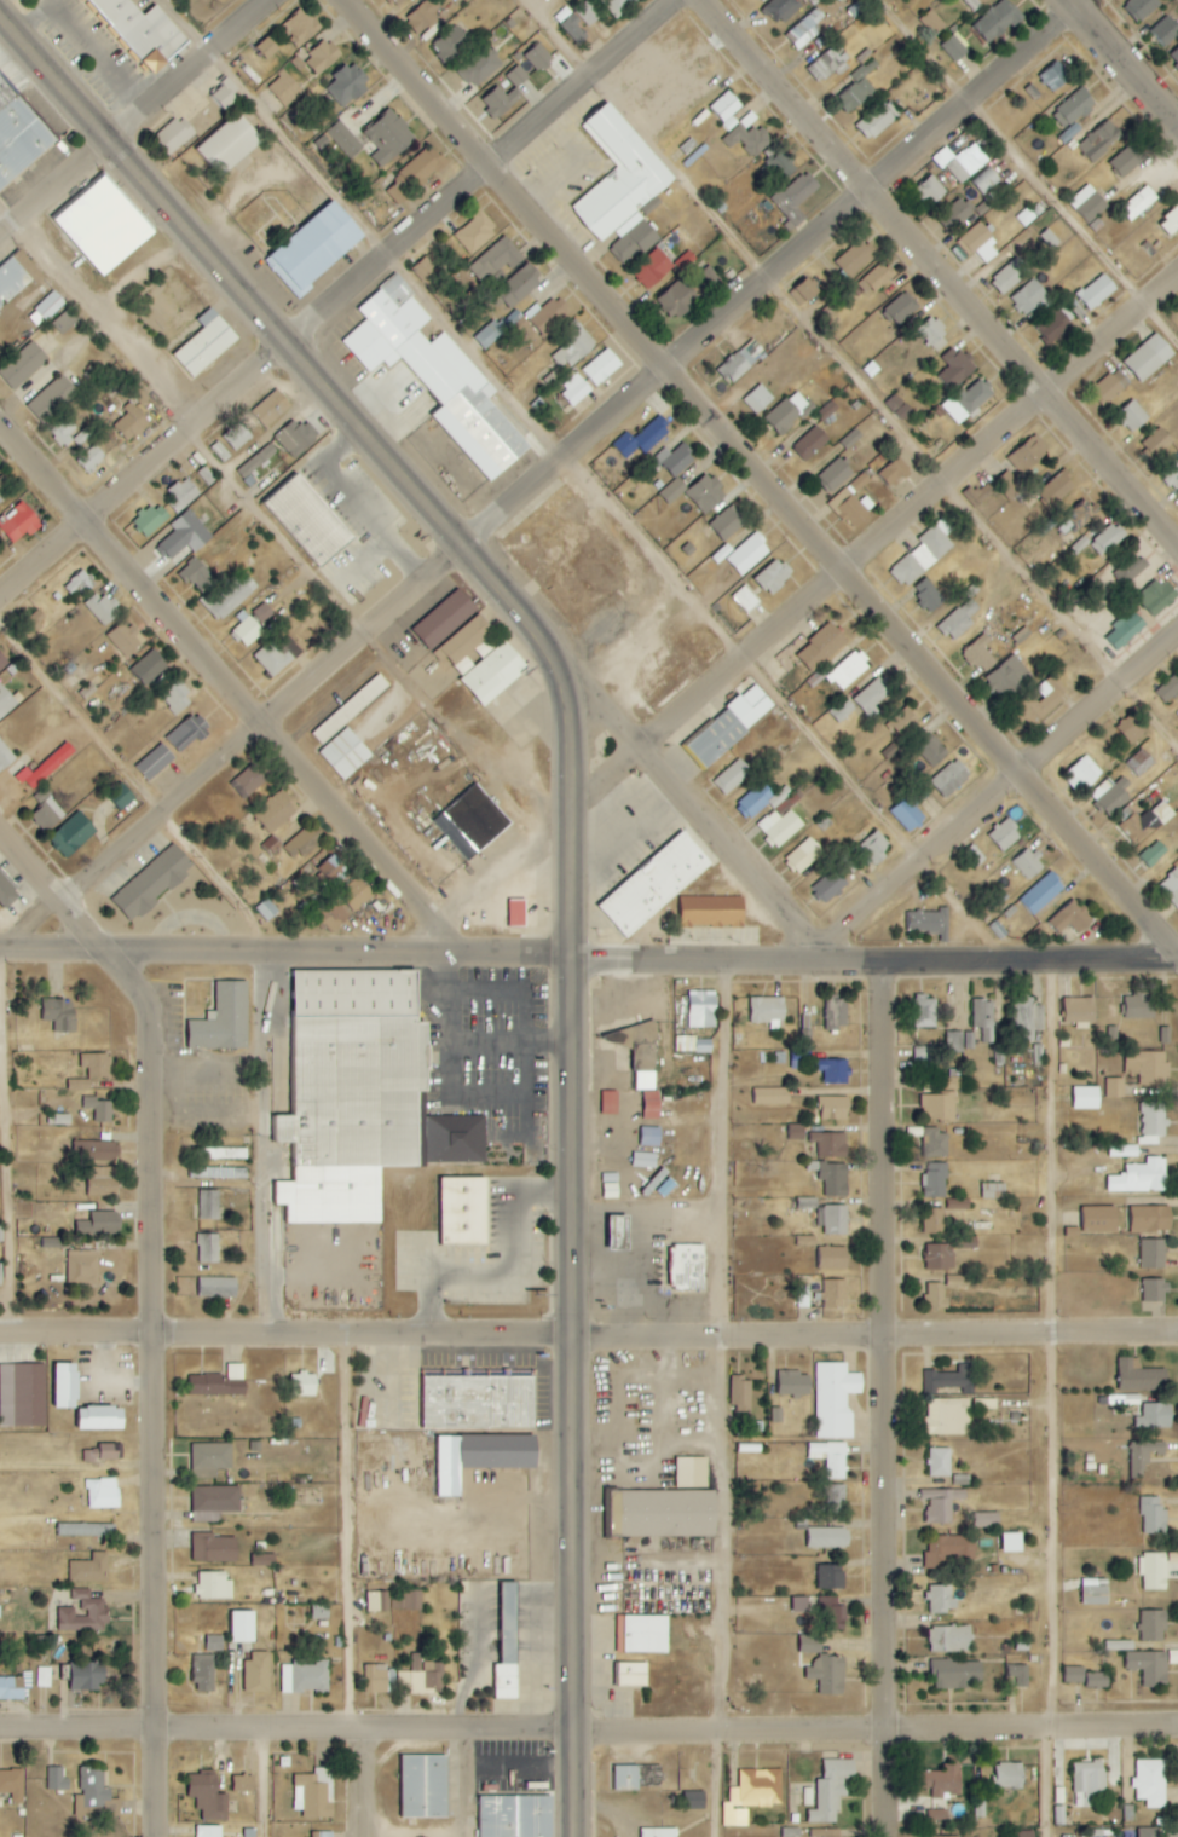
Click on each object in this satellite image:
building: (761, 0)
building: (399, 1)
road: (1073, 1)
building: (975, 4)
building: (617, 6)
building: (1141, 8)
building: (780, 10)
building: (588, 13)
building: (423, 17)
building: (995, 21)
building: (931, 22)
building: (571, 24)
building: (301, 27)
building: (805, 29)
building: (142, 30)
building: (1165, 30)
building: (452, 44)
building: (267, 47)
building: (954, 47)
building: (541, 54)
building: (323, 57)
building: (1174, 58)
road: (1122, 63)
building: (827, 64)
building: (480, 67)
building: (516, 76)
building: (1055, 76)
building: (348, 83)
building: (284, 88)
building: (856, 91)
building: (224, 92)
building: (500, 100)
building: (1073, 108)
building: (726, 110)
road: (140, 120)
building: (874, 122)
building: (1070, 133)
building: (18, 135)
building: (173, 135)
building: (388, 138)
building: (341, 139)
building: (749, 139)
building: (1099, 140)
building: (229, 145)
building: (1127, 161)
building: (960, 162)
building: (779, 167)
building: (421, 169)
road: (1027, 169)
building: (984, 181)
building: (622, 186)
building: (930, 191)
building: (395, 196)
building: (796, 196)
building: (1139, 202)
building: (1089, 203)
building: (953, 214)
building: (1170, 224)
building: (100, 225)
building: (475, 232)
building: (978, 243)
building: (313, 249)
building: (855, 258)
building: (496, 260)
building: (652, 268)
building: (427, 271)
road: (940, 272)
building: (15, 276)
building: (1010, 276)
building: (876, 279)
building: (516, 288)
building: (804, 291)
building: (1096, 291)
building: (1030, 297)
building: (676, 300)
road: (341, 301)
building: (50, 305)
building: (900, 310)
building: (549, 317)
building: (64, 322)
building: (1053, 327)
building: (489, 334)
building: (932, 334)
building: (203, 345)
building: (572, 348)
building: (1149, 358)
building: (741, 360)
building: (21, 364)
building: (957, 366)
building: (601, 368)
road: (854, 369)
building: (437, 376)
building: (1109, 388)
building: (574, 391)
building: (52, 399)
building: (758, 399)
building: (968, 402)
building: (271, 409)
building: (790, 412)
building: (1132, 416)
building: (131, 423)
building: (63, 431)
building: (237, 437)
building: (296, 438)
building: (641, 439)
building: (851, 439)
building: (1156, 443)
building: (810, 444)
road: (382, 449)
building: (220, 451)
building: (1028, 455)
building: (91, 458)
building: (675, 460)
building: (256, 461)
road: (767, 472)
building: (894, 473)
building: (833, 475)
building: (1171, 475)
road: (543, 479)
road: (594, 480)
building: (1009, 485)
building: (1057, 489)
building: (672, 491)
building: (705, 493)
building: (181, 495)
building: (853, 502)
building: (1082, 514)
building: (151, 519)
building: (308, 521)
building: (728, 522)
building: (18, 524)
road: (284, 533)
building: (185, 536)
building: (1108, 541)
road: (883, 544)
building: (751, 551)
building: (723, 554)
building: (924, 554)
building: (773, 577)
building: (80, 583)
building: (218, 591)
building: (928, 595)
building: (1157, 596)
building: (746, 599)
building: (103, 608)
building: (262, 613)
building: (443, 619)
building: (959, 620)
building: (1125, 630)
building: (246, 631)
building: (127, 640)
building: (463, 645)
building: (821, 647)
building: (980, 654)
building: (277, 657)
building: (2, 663)
building: (149, 668)
building: (849, 671)
building: (493, 674)
building: (1006, 676)
road: (229, 686)
building: (1168, 689)
building: (873, 697)
building: (174, 700)
building: (6, 703)
building: (1040, 704)
building: (348, 710)
building: (842, 710)
building: (902, 722)
building: (731, 726)
building: (1131, 730)
building: (187, 734)
building: (930, 750)
building: (345, 753)
building: (5, 757)
building: (155, 763)
building: (1141, 763)
building: (44, 769)
building: (1082, 775)
building: (732, 776)
building: (951, 779)
building: (248, 781)
building: (1111, 795)
building: (121, 797)
building: (757, 801)
road: (998, 801)
building: (276, 811)
building: (46, 815)
road: (700, 815)
building: (469, 821)
building: (1148, 821)
building: (779, 827)
building: (71, 836)
building: (1004, 836)
building: (302, 844)
building: (872, 850)
building: (1153, 854)
building: (804, 855)
building: (971, 855)
building: (1028, 863)
building: (331, 868)
building: (152, 883)
building: (654, 885)
building: (830, 885)
building: (1171, 888)
building: (7, 892)
building: (1041, 894)
building: (357, 895)
building: (266, 909)
building: (711, 912)
building: (516, 913)
building: (331, 915)
building: (1072, 918)
building: (929, 923)
road: (261, 932)
road: (287, 954)
road: (876, 963)
building: (1139, 1006)
building: (700, 1009)
building: (767, 1010)
building: (1079, 1010)
building: (925, 1011)
building: (836, 1013)
building: (1027, 1013)
building: (60, 1015)
building: (983, 1018)
building: (223, 1019)
building: (959, 1040)
building: (686, 1044)
building: (639, 1052)
building: (924, 1057)
building: (97, 1065)
building: (1148, 1067)
building: (833, 1070)
building: (77, 1085)
building: (1115, 1087)
building: (352, 1091)
building: (772, 1097)
building: (1086, 1097)
building: (610, 1103)
building: (651, 1105)
building: (939, 1107)
building: (833, 1108)
building: (99, 1109)
building: (59, 1119)
building: (1153, 1122)
building: (796, 1132)
building: (648, 1137)
building: (455, 1139)
road: (11, 1140)
building: (935, 1143)
building: (830, 1144)
building: (94, 1151)
building: (1122, 1151)
building: (223, 1154)
building: (643, 1160)
building: (218, 1173)
building: (1141, 1177)
building: (828, 1178)
building: (936, 1179)
building: (100, 1182)
building: (610, 1186)
building: (993, 1190)
building: (807, 1202)
building: (208, 1205)
building: (955, 1205)
building: (462, 1211)
building: (835, 1219)
building: (1099, 1219)
building: (1151, 1219)
building: (934, 1220)
building: (96, 1223)
building: (618, 1234)
building: (51, 1242)
building: (805, 1242)
building: (208, 1248)
building: (1153, 1254)
building: (940, 1258)
building: (831, 1259)
building: (81, 1267)
building: (685, 1267)
building: (0, 1276)
building: (958, 1281)
building: (218, 1287)
building: (1155, 1290)
building: (835, 1293)
building: (936, 1295)
road: (150, 1302)
road: (588, 1336)
road: (573, 1342)
building: (1141, 1376)
building: (951, 1379)
building: (793, 1383)
building: (216, 1385)
building: (304, 1385)
building: (65, 1386)
building: (740, 1394)
building: (22, 1396)
road: (721, 1399)
building: (835, 1399)
road: (890, 1399)
road: (1049, 1399)
building: (479, 1402)
building: (1155, 1416)
building: (946, 1417)
building: (99, 1419)
building: (100, 1454)
building: (1144, 1456)
building: (480, 1457)
building: (830, 1457)
building: (210, 1460)
building: (939, 1462)
building: (691, 1473)
building: (103, 1494)
building: (836, 1498)
building: (213, 1503)
building: (941, 1504)
building: (664, 1513)
building: (1153, 1515)
building: (987, 1520)
building: (86, 1530)
road: (356, 1532)
building: (826, 1537)
building: (1012, 1542)
building: (214, 1549)
building: (946, 1550)
building: (264, 1560)
building: (89, 1570)
building: (1151, 1571)
building: (830, 1578)
building: (213, 1585)
building: (1092, 1595)
building: (941, 1599)
building: (408, 1600)
building: (376, 1601)
building: (799, 1604)
building: (319, 1612)
building: (83, 1613)
building: (833, 1613)
building: (1150, 1625)
building: (242, 1627)
building: (642, 1634)
building: (951, 1640)
building: (214, 1644)
building: (810, 1644)
building: (508, 1646)
building: (1150, 1668)
building: (256, 1673)
building: (203, 1674)
building: (629, 1674)
building: (828, 1674)
building: (957, 1674)
building: (1020, 1675)
building: (1074, 1675)
building: (305, 1676)
building: (426, 1676)
building: (86, 1677)
building: (376, 1679)
building: (1097, 1680)
road: (589, 1728)
building: (636, 1777)
building: (1006, 1778)
building: (57, 1779)
road: (262, 1781)
road: (365, 1781)
road: (477, 1783)
road: (574, 1783)
building: (1087, 1783)
building: (1150, 1783)
building: (243, 1784)
building: (12, 1785)
building: (422, 1786)
building: (937, 1787)
building: (94, 1789)
building: (831, 1790)
building: (314, 1793)
building: (752, 1795)
building: (208, 1797)
building: (695, 1801)
building: (0, 1802)
building: (515, 1816)
building: (208, 1831)
building: (657, 1832)
building: (826, 1832)
building: (1149, 1832)
building: (1024, 1833)
building: (322, 1835)

